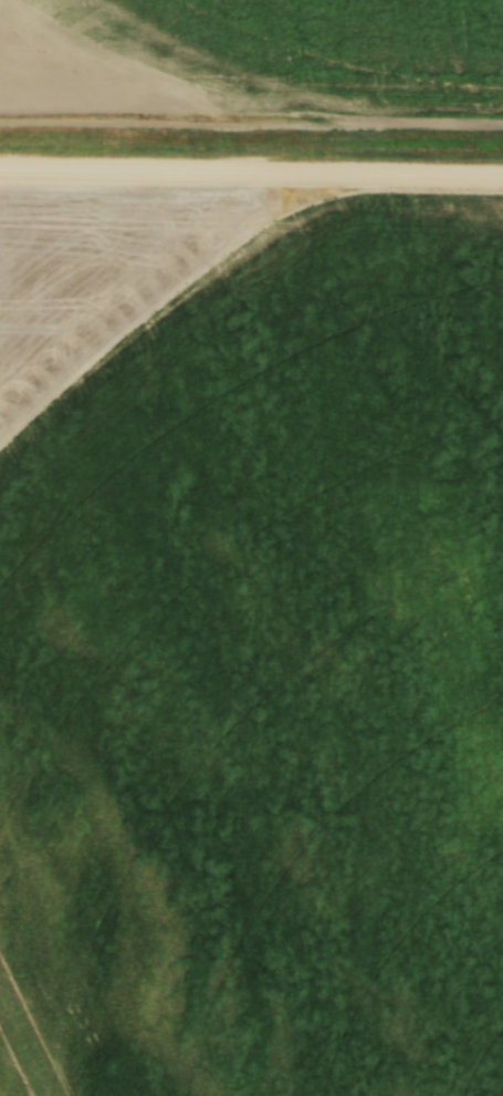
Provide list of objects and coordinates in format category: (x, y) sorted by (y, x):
crop: (252, 62)
road: (251, 174)
crop: (251, 644)

